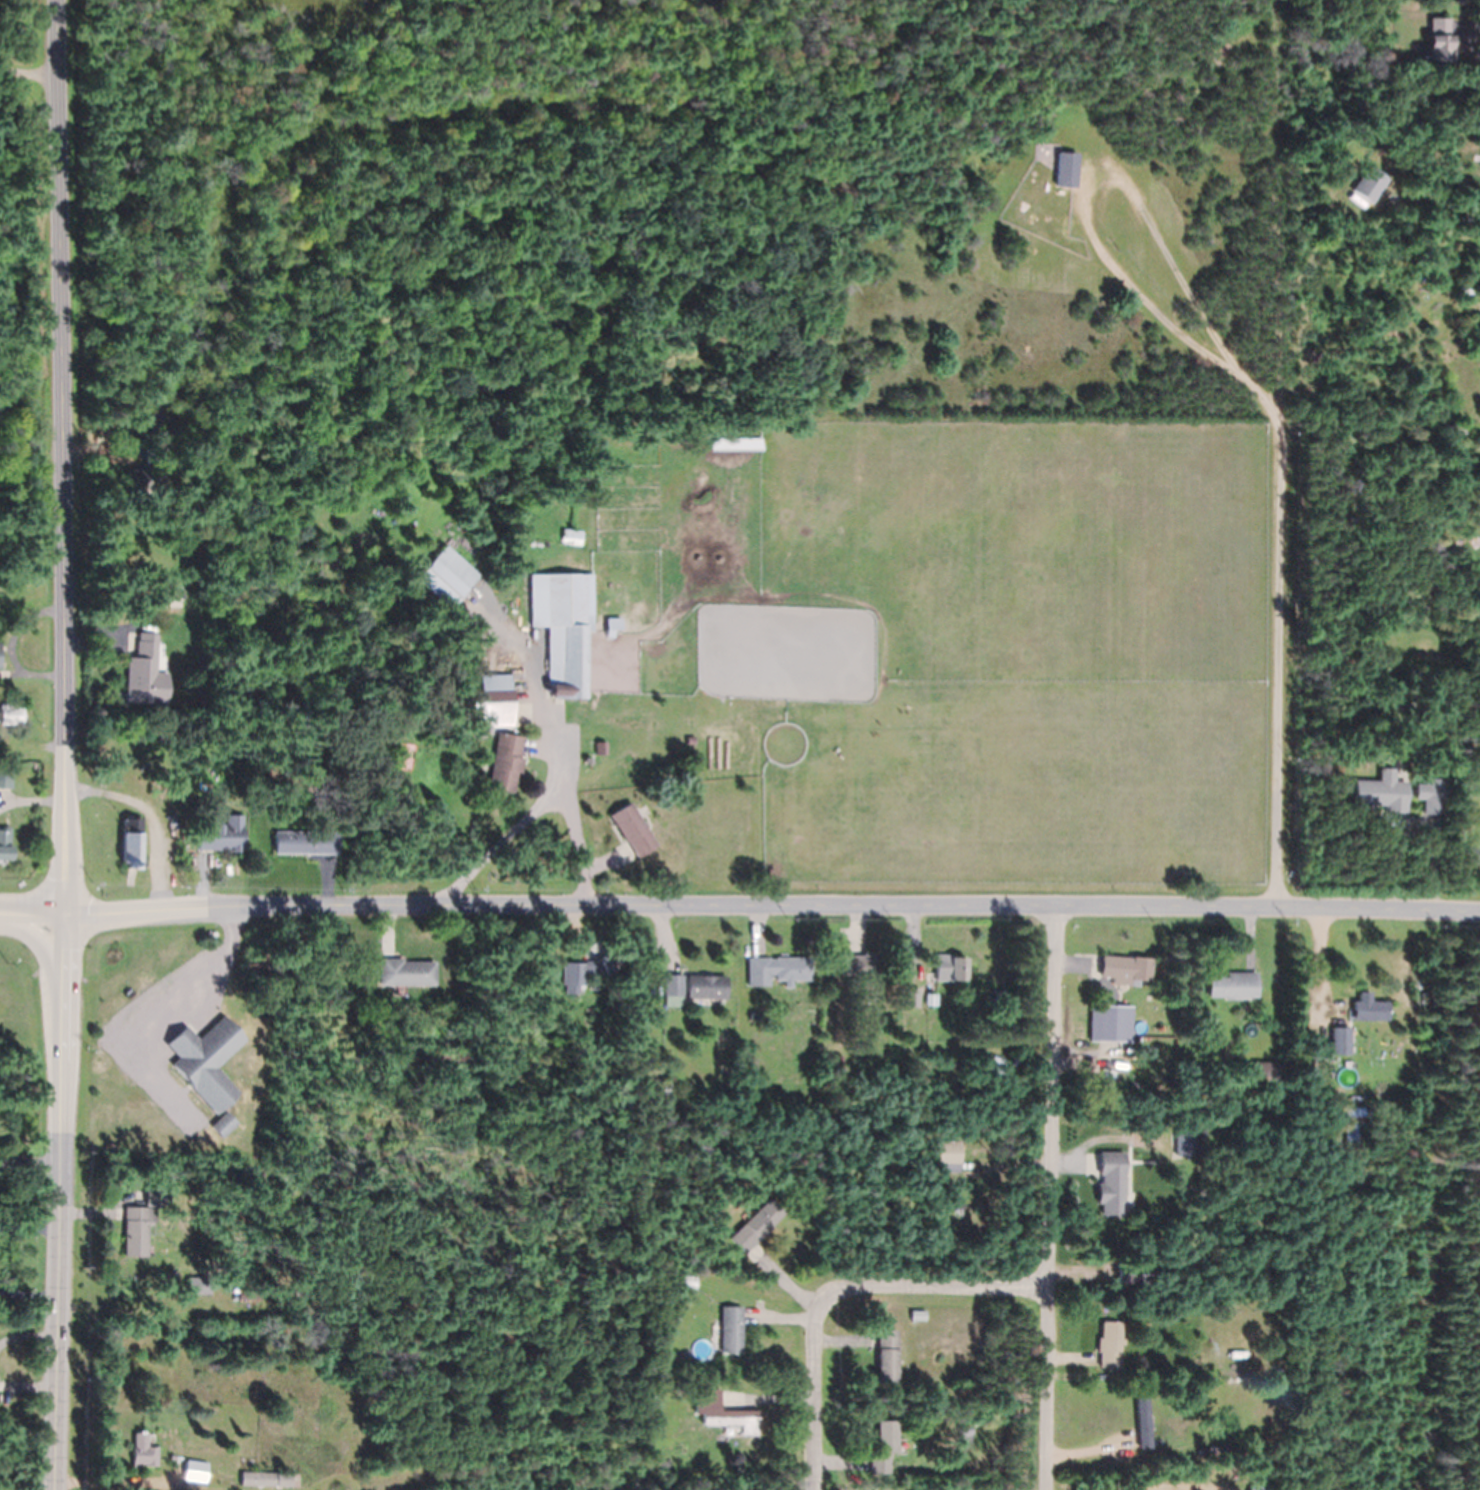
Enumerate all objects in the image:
building: (1440, 41)
building: (1066, 169)
building: (1370, 185)
building: (99, 423)
building: (1454, 430)
building: (734, 443)
building: (152, 454)
road: (56, 456)
building: (142, 480)
building: (371, 503)
building: (571, 536)
building: (441, 582)
building: (170, 592)
building: (612, 625)
building: (561, 630)
building: (0, 658)
building: (143, 672)
building: (1413, 672)
building: (10, 714)
building: (489, 716)
building: (162, 736)
building: (691, 740)
building: (601, 748)
building: (504, 762)
building: (5, 778)
building: (1380, 792)
building: (1431, 795)
building: (633, 829)
building: (223, 835)
building: (4, 842)
building: (304, 842)
building: (132, 844)
building: (1474, 850)
building: (31, 867)
road: (774, 906)
road: (34, 911)
building: (950, 967)
building: (1125, 969)
building: (778, 970)
building: (587, 971)
building: (406, 972)
building: (863, 972)
road: (56, 975)
building: (674, 984)
road: (68, 985)
building: (1233, 985)
building: (707, 987)
building: (912, 997)
building: (931, 999)
building: (1424, 1000)
building: (1368, 1008)
building: (755, 1016)
building: (1111, 1024)
building: (1340, 1042)
building: (839, 1059)
building: (1309, 1059)
building: (209, 1061)
building: (753, 1063)
building: (960, 1068)
building: (1002, 1071)
building: (1308, 1073)
building: (1264, 1074)
building: (1227, 1079)
building: (671, 1080)
building: (1150, 1084)
building: (1309, 1090)
building: (1354, 1122)
building: (224, 1125)
building: (1307, 1126)
building: (1189, 1143)
building: (1339, 1147)
building: (980, 1161)
building: (976, 1173)
building: (1171, 1183)
building: (1113, 1184)
building: (156, 1196)
road: (1055, 1199)
building: (755, 1225)
building: (136, 1229)
building: (1110, 1236)
road: (60, 1273)
building: (1133, 1273)
building: (687, 1281)
building: (198, 1285)
road: (963, 1290)
building: (255, 1294)
building: (1117, 1300)
building: (1138, 1301)
building: (1180, 1305)
building: (1166, 1306)
building: (730, 1329)
building: (1109, 1344)
building: (886, 1356)
road: (819, 1371)
building: (722, 1411)
building: (1142, 1423)
building: (964, 1434)
building: (883, 1446)
building: (143, 1451)
building: (172, 1456)
building: (1209, 1456)
building: (195, 1470)
building: (269, 1478)
building: (1252, 1489)

